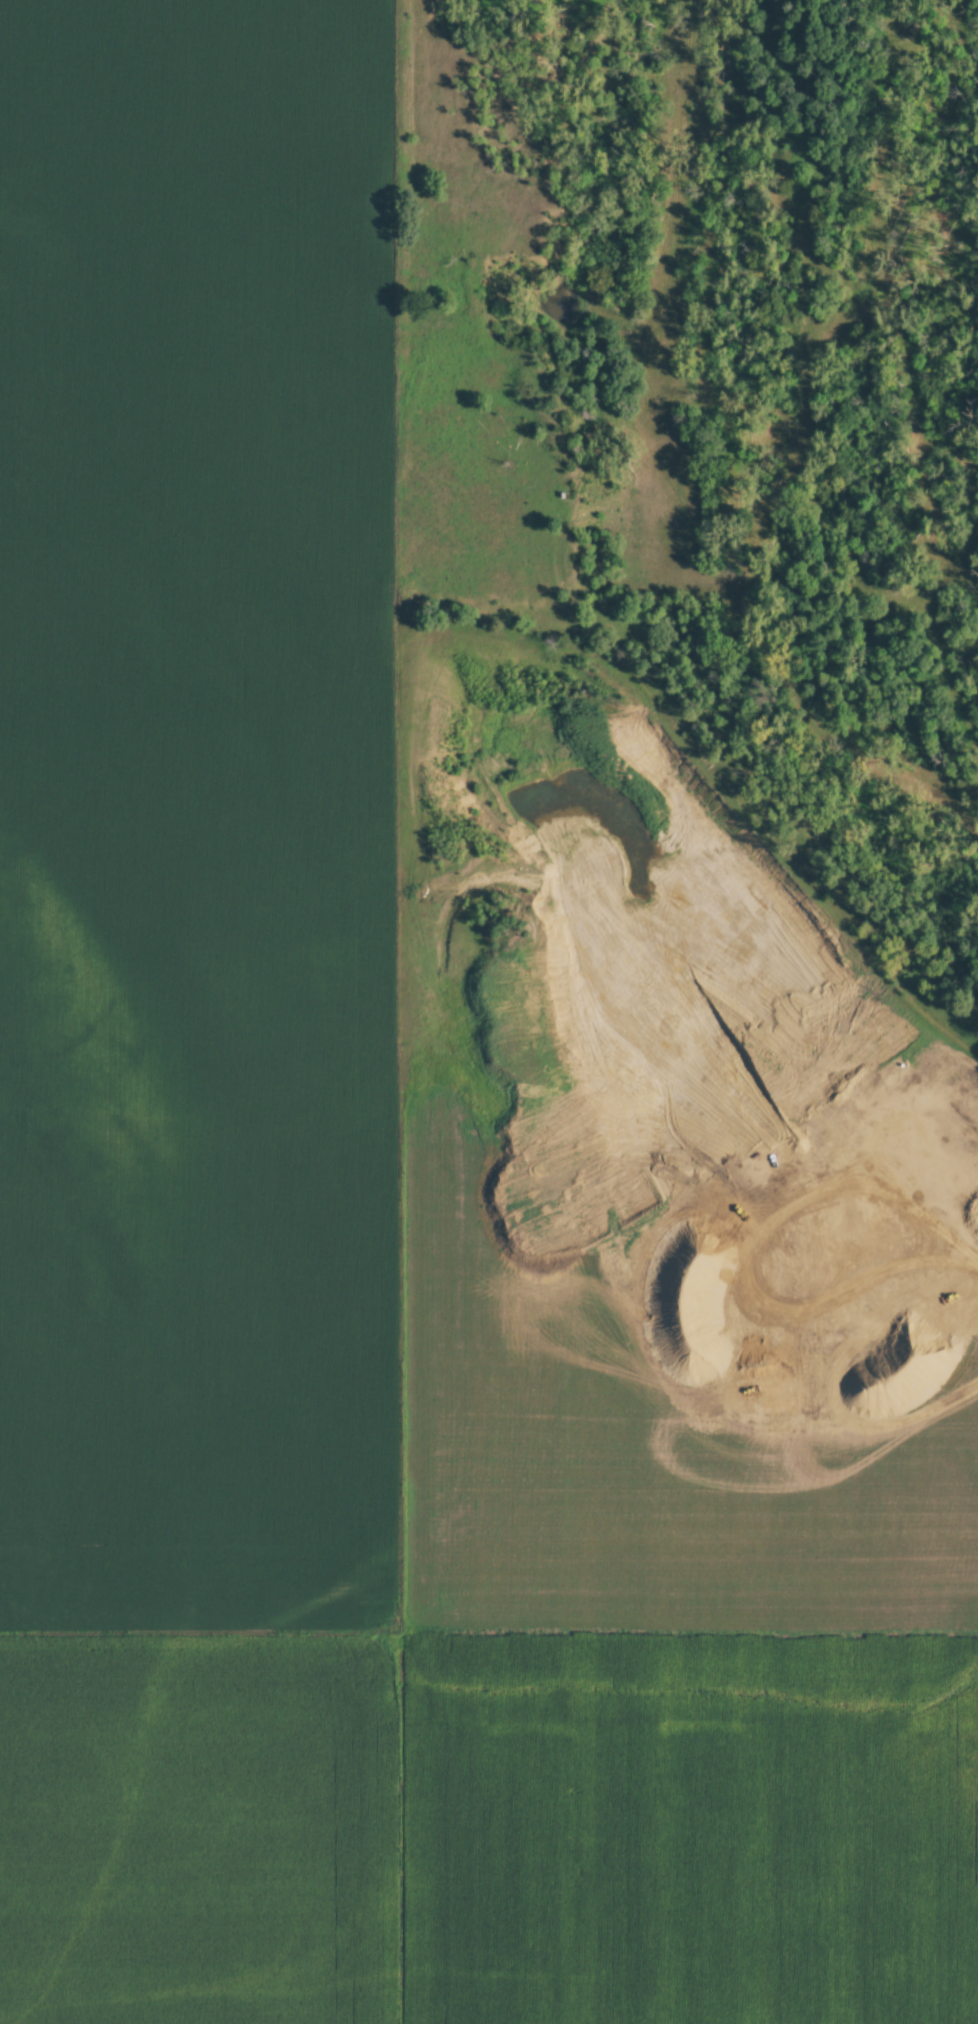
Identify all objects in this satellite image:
road: (950, 1179)

